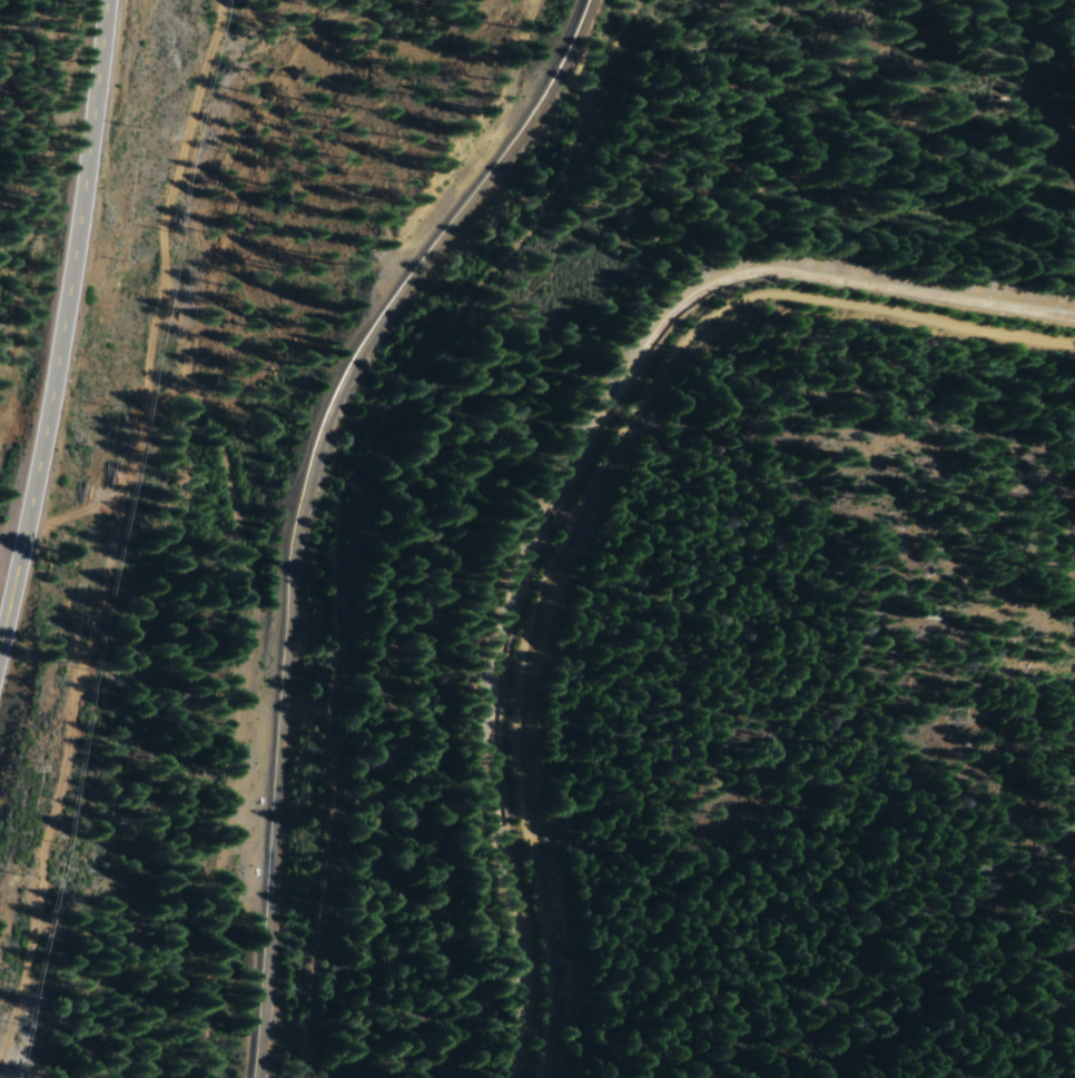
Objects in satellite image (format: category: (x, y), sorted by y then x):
road: (56, 308)
railway: (306, 501)
road: (639, 538)

